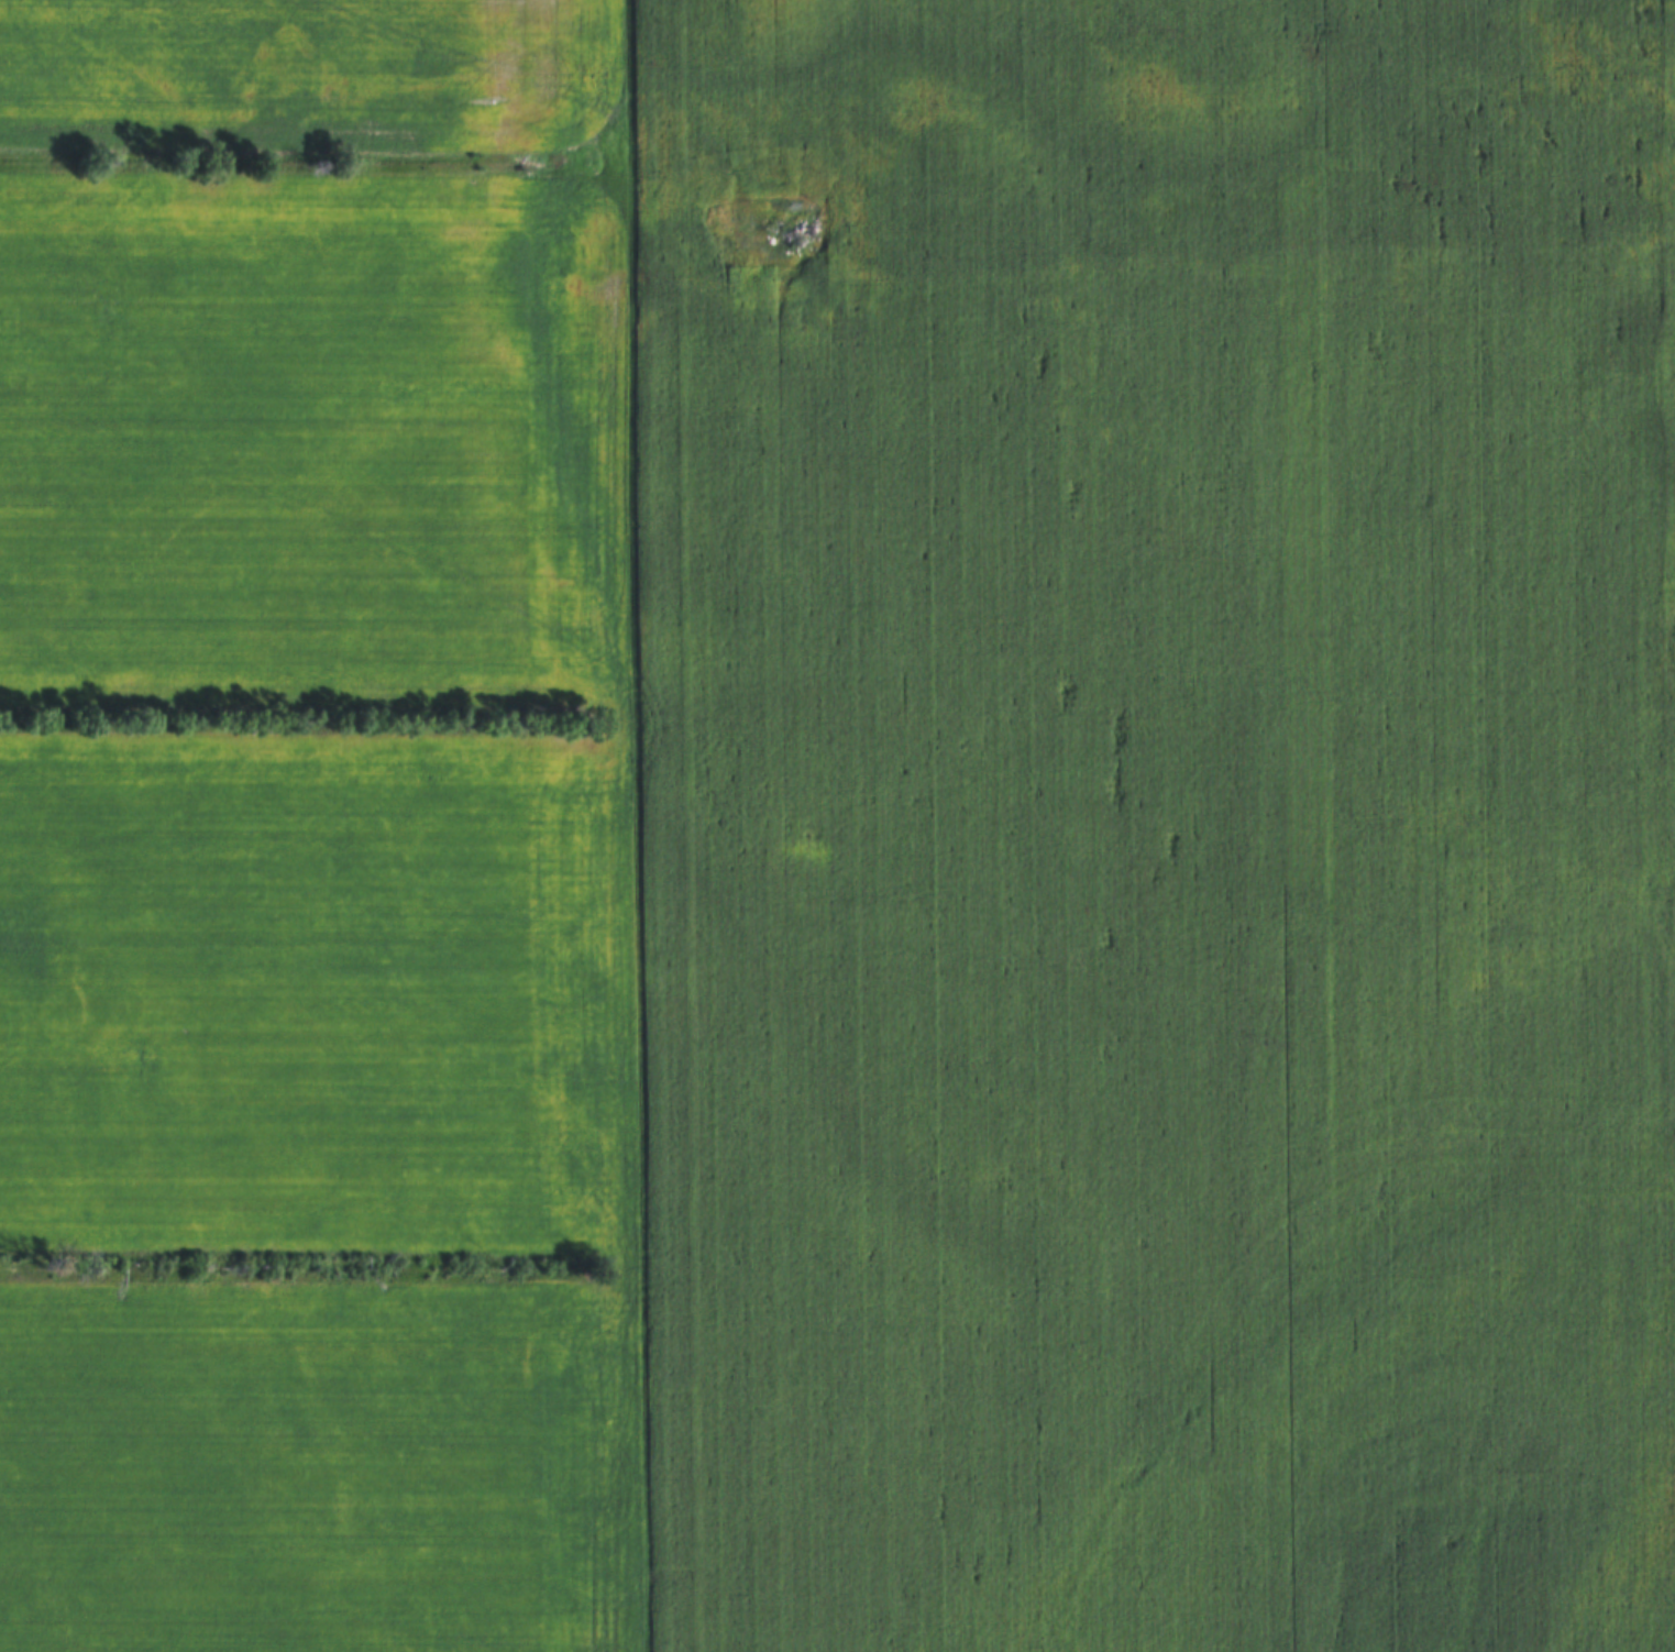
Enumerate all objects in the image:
road: (643, 825)

